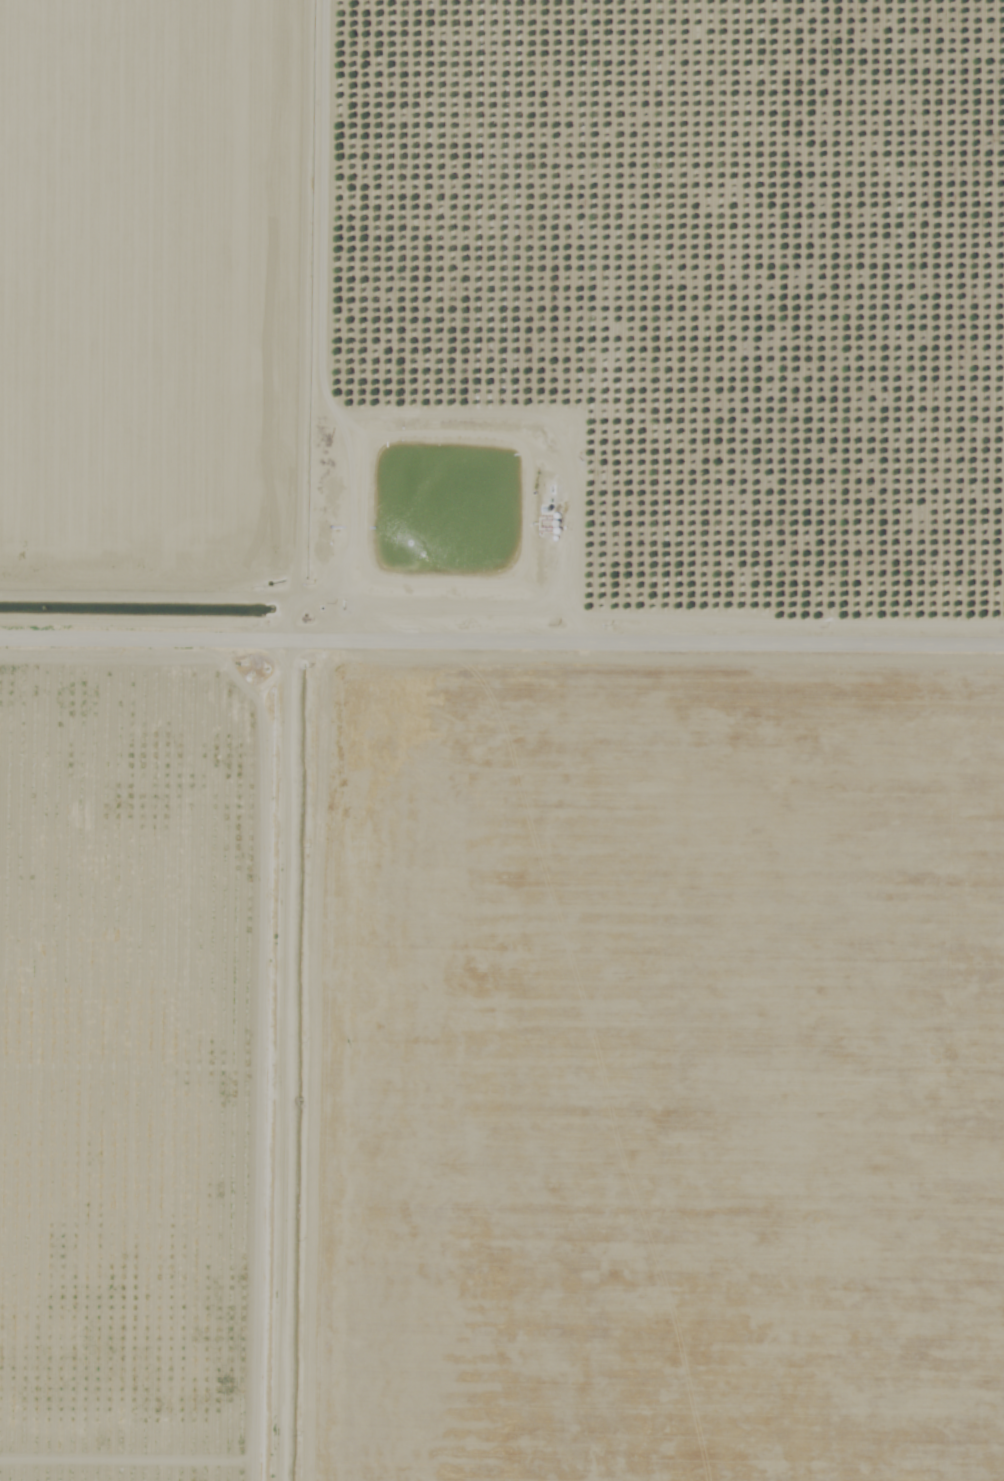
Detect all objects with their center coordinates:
crop: (170, 306)
crop: (674, 326)
road: (501, 629)
road: (331, 740)
crop: (160, 1080)

